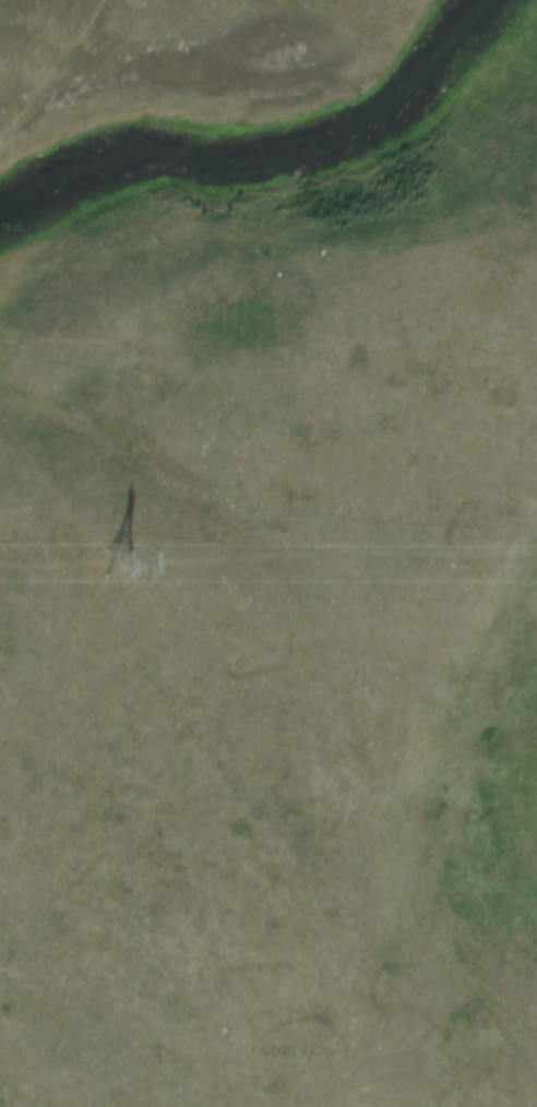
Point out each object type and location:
power tower: (121, 560)

